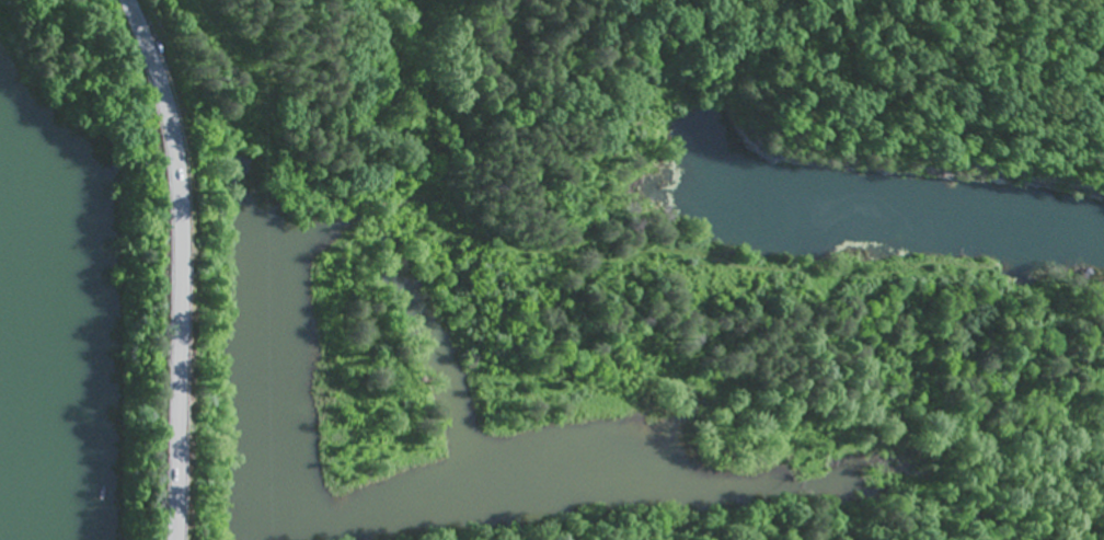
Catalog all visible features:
road: (179, 266)

